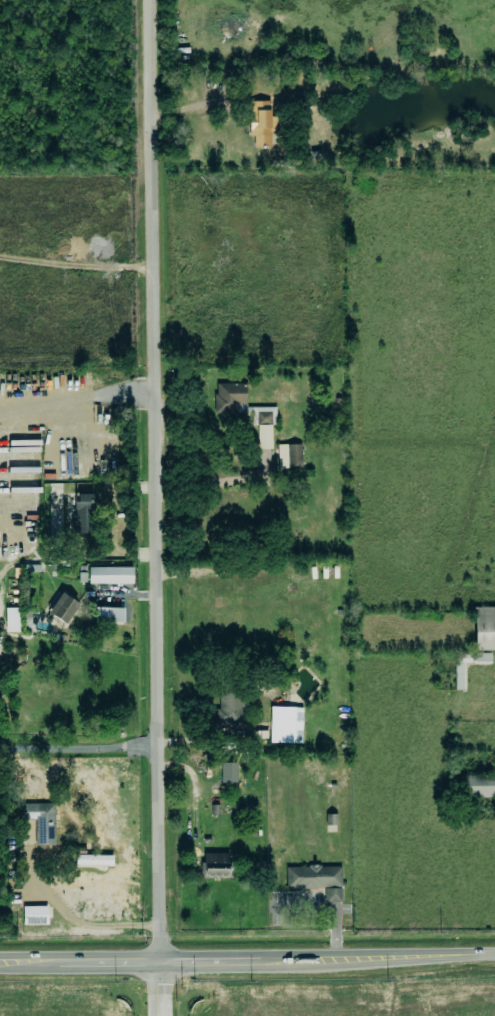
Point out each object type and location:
building: (260, 123)
building: (226, 396)
road: (74, 404)
building: (289, 456)
road: (153, 477)
road: (209, 483)
building: (83, 513)
building: (110, 575)
building: (62, 607)
building: (108, 615)
building: (26, 617)
building: (12, 619)
building: (484, 629)
building: (482, 657)
building: (461, 669)
building: (230, 704)
building: (285, 725)
road: (78, 747)
road: (192, 782)
building: (481, 785)
building: (38, 820)
building: (93, 860)
building: (216, 865)
building: (316, 880)
building: (34, 915)
road: (62, 924)
road: (247, 954)
road: (160, 985)
road: (450, 1003)

